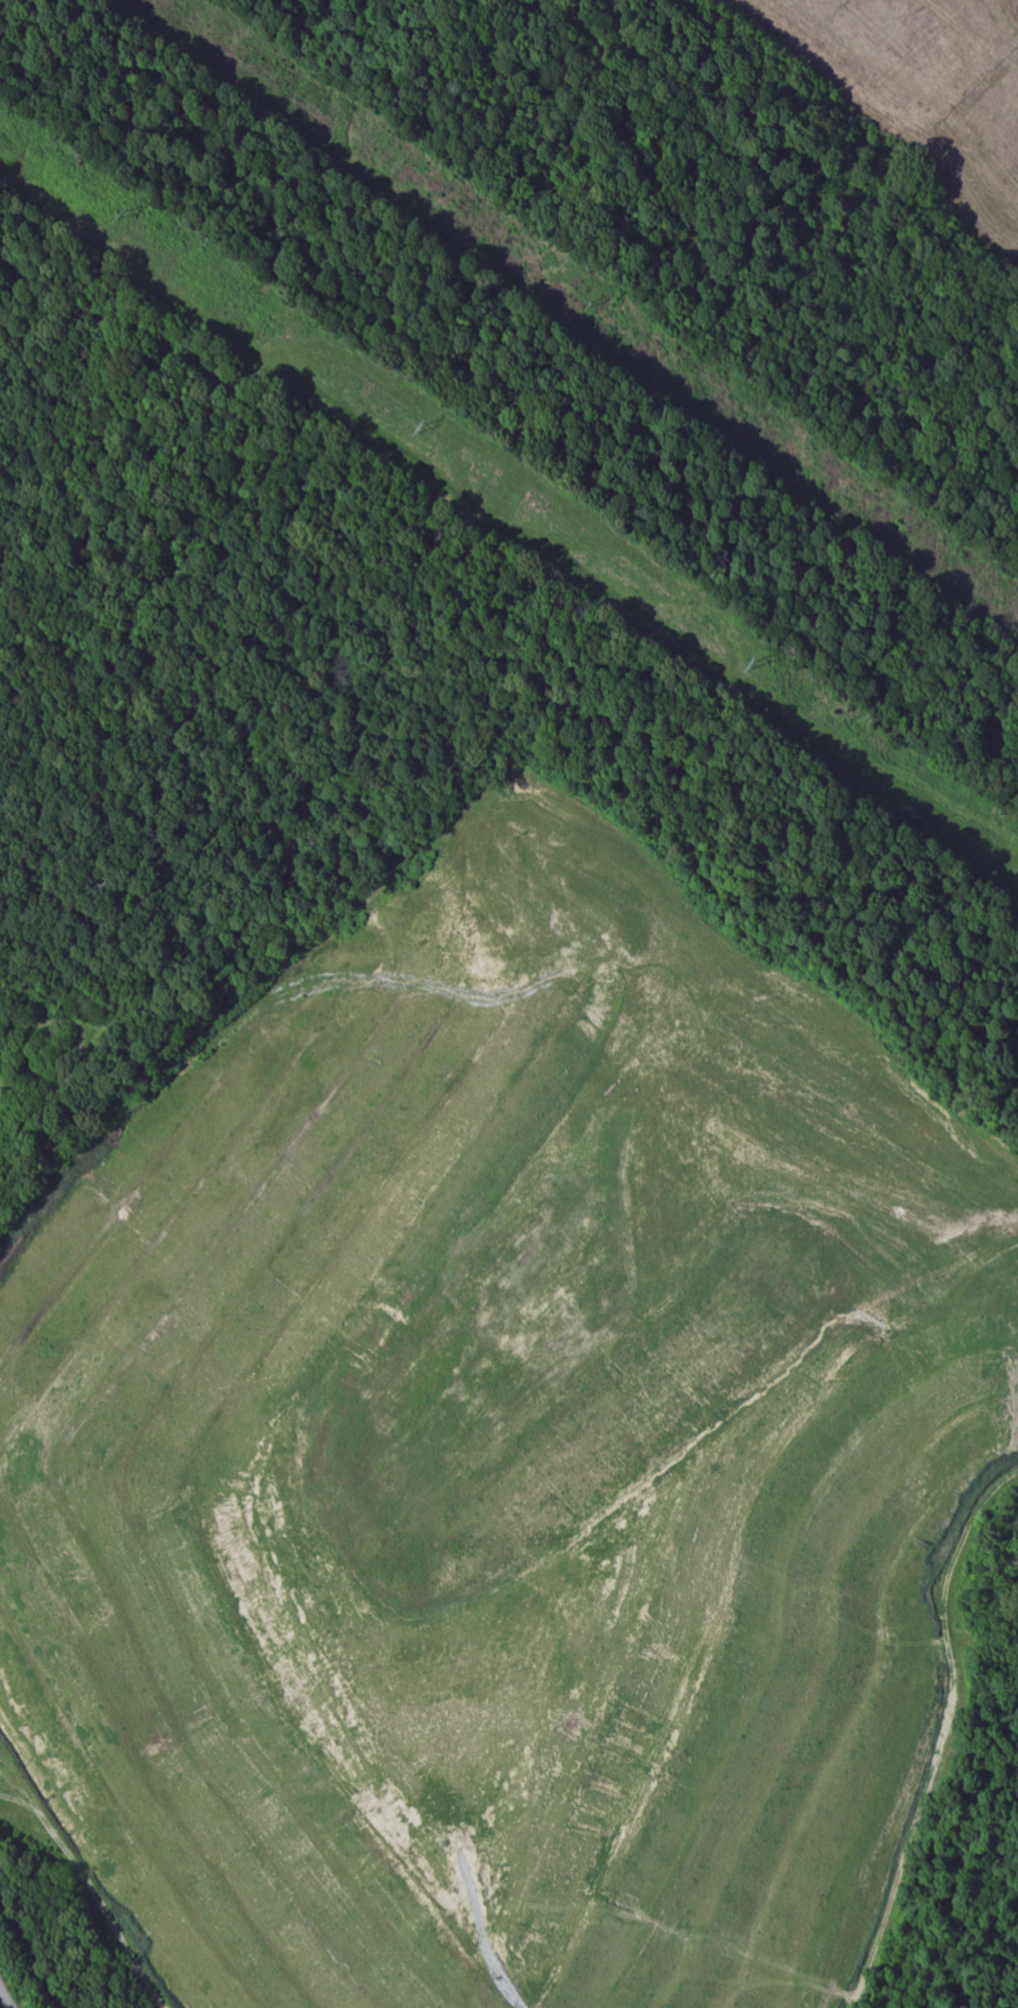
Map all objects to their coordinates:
quarry: (505, 1452)
road: (5, 1998)

